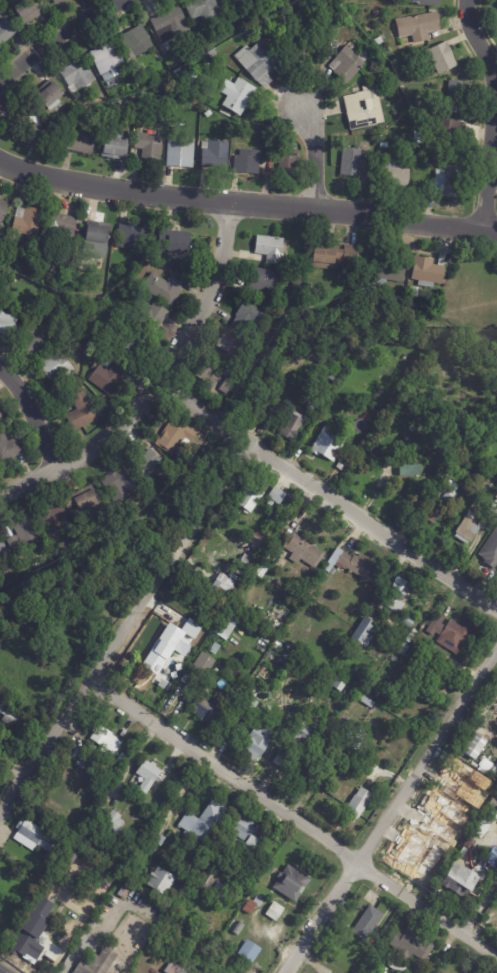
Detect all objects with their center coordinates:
building: (10, 0)
building: (58, 2)
building: (429, 3)
building: (233, 4)
building: (206, 10)
building: (30, 11)
building: (170, 26)
building: (243, 28)
building: (419, 28)
building: (6, 33)
road: (59, 36)
building: (138, 42)
building: (333, 43)
building: (305, 48)
building: (214, 54)
building: (441, 58)
building: (110, 61)
building: (259, 62)
building: (350, 65)
building: (181, 72)
building: (402, 72)
building: (79, 76)
building: (188, 79)
building: (51, 95)
building: (238, 95)
building: (454, 99)
building: (101, 108)
building: (366, 109)
road: (492, 112)
building: (92, 114)
building: (208, 114)
building: (21, 119)
building: (62, 125)
building: (446, 134)
building: (36, 136)
building: (418, 137)
building: (82, 141)
building: (385, 146)
building: (117, 148)
building: (150, 149)
building: (181, 155)
building: (215, 155)
building: (421, 157)
road: (315, 159)
building: (285, 160)
building: (248, 163)
building: (357, 164)
building: (393, 174)
building: (452, 182)
road: (247, 201)
building: (3, 209)
building: (29, 221)
building: (63, 228)
building: (132, 236)
building: (96, 239)
building: (176, 240)
building: (271, 248)
building: (333, 257)
building: (7, 260)
building: (391, 268)
building: (76, 270)
building: (431, 271)
building: (298, 279)
building: (263, 282)
building: (370, 284)
building: (166, 287)
building: (405, 289)
building: (416, 293)
building: (295, 306)
building: (153, 315)
building: (252, 315)
building: (7, 322)
building: (71, 325)
building: (278, 329)
building: (34, 339)
building: (232, 344)
building: (134, 347)
building: (348, 350)
building: (231, 361)
building: (57, 367)
building: (108, 378)
building: (333, 378)
road: (159, 380)
building: (217, 380)
building: (395, 395)
building: (320, 399)
building: (387, 409)
building: (83, 411)
road: (36, 413)
building: (1, 416)
building: (294, 425)
building: (176, 436)
building: (331, 442)
building: (10, 449)
building: (151, 462)
building: (408, 470)
building: (446, 474)
building: (120, 483)
building: (279, 495)
road: (326, 497)
building: (248, 499)
building: (88, 501)
building: (443, 502)
building: (493, 516)
building: (53, 519)
building: (470, 529)
building: (24, 537)
building: (3, 548)
building: (305, 550)
building: (490, 550)
building: (248, 565)
building: (356, 566)
building: (225, 585)
building: (397, 595)
building: (180, 597)
building: (236, 614)
building: (409, 622)
building: (224, 625)
building: (209, 629)
building: (368, 632)
road: (127, 633)
building: (450, 633)
building: (216, 649)
building: (172, 650)
building: (405, 650)
building: (206, 663)
building: (424, 670)
building: (166, 676)
building: (332, 680)
building: (342, 687)
building: (366, 701)
building: (207, 709)
building: (248, 710)
building: (12, 716)
building: (303, 731)
building: (345, 733)
building: (107, 741)
building: (260, 742)
building: (359, 745)
building: (474, 746)
building: (280, 763)
building: (84, 764)
building: (103, 768)
building: (150, 776)
building: (473, 799)
building: (490, 804)
building: (359, 806)
road: (391, 812)
building: (109, 820)
road: (294, 821)
building: (203, 824)
building: (480, 826)
building: (36, 837)
building: (248, 838)
building: (159, 839)
building: (467, 843)
building: (73, 856)
building: (488, 858)
building: (123, 859)
building: (457, 880)
building: (209, 881)
building: (162, 882)
building: (292, 884)
building: (126, 892)
building: (222, 894)
building: (254, 906)
building: (276, 912)
building: (366, 923)
building: (238, 929)
building: (35, 932)
road: (88, 936)
building: (407, 948)
building: (58, 949)
building: (251, 952)
building: (98, 963)
building: (174, 969)
building: (385, 971)
building: (330, 972)
building: (378, 972)

